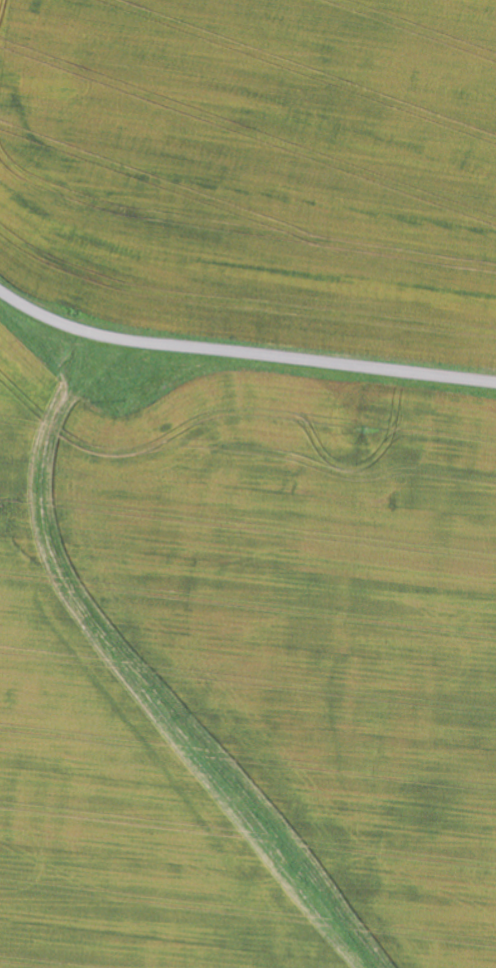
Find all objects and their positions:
road: (243, 356)

